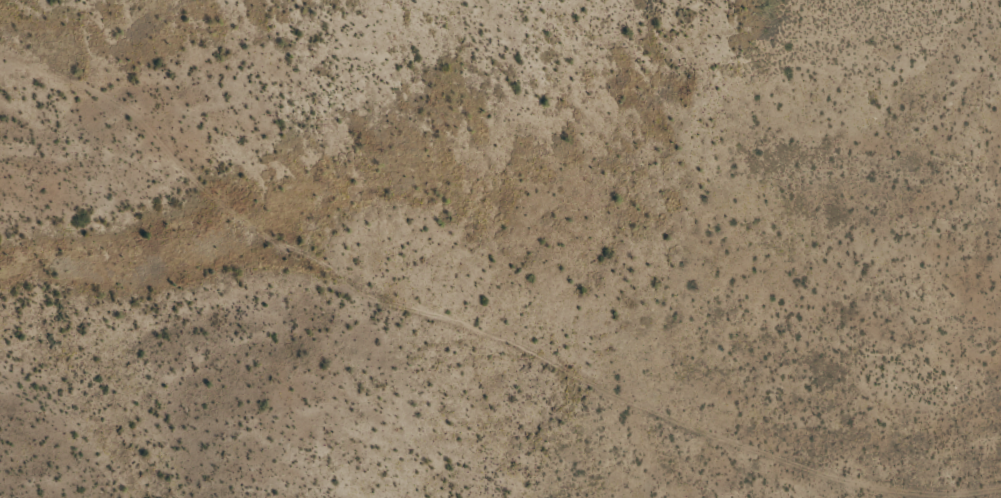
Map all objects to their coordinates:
road: (449, 306)

